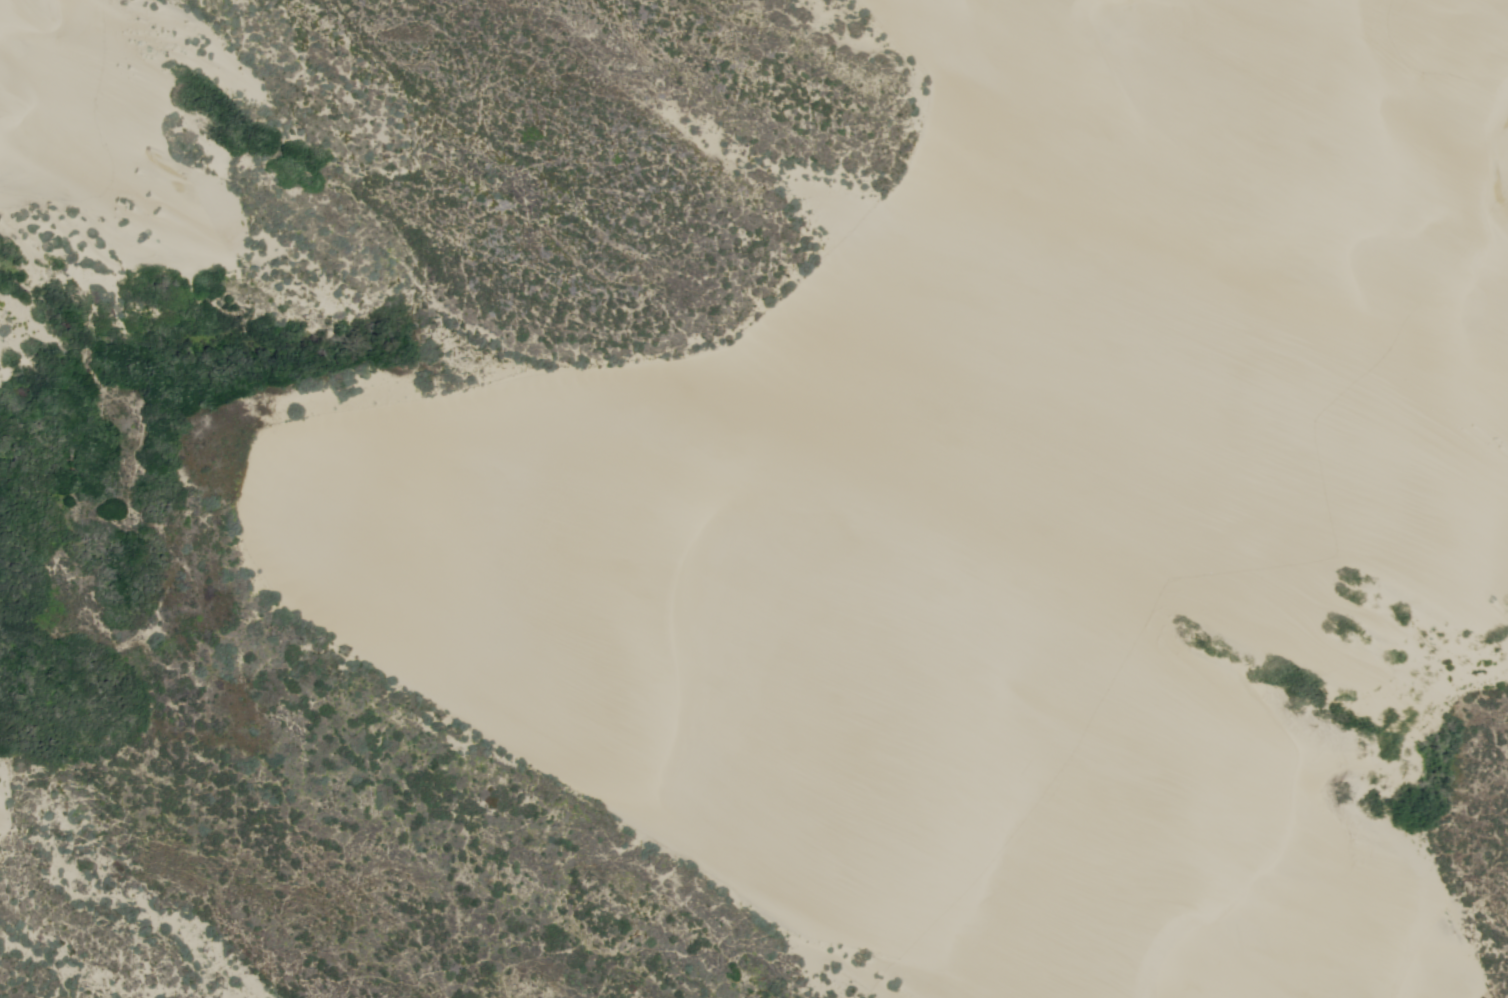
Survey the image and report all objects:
road: (1142, 304)
park: (741, 489)

